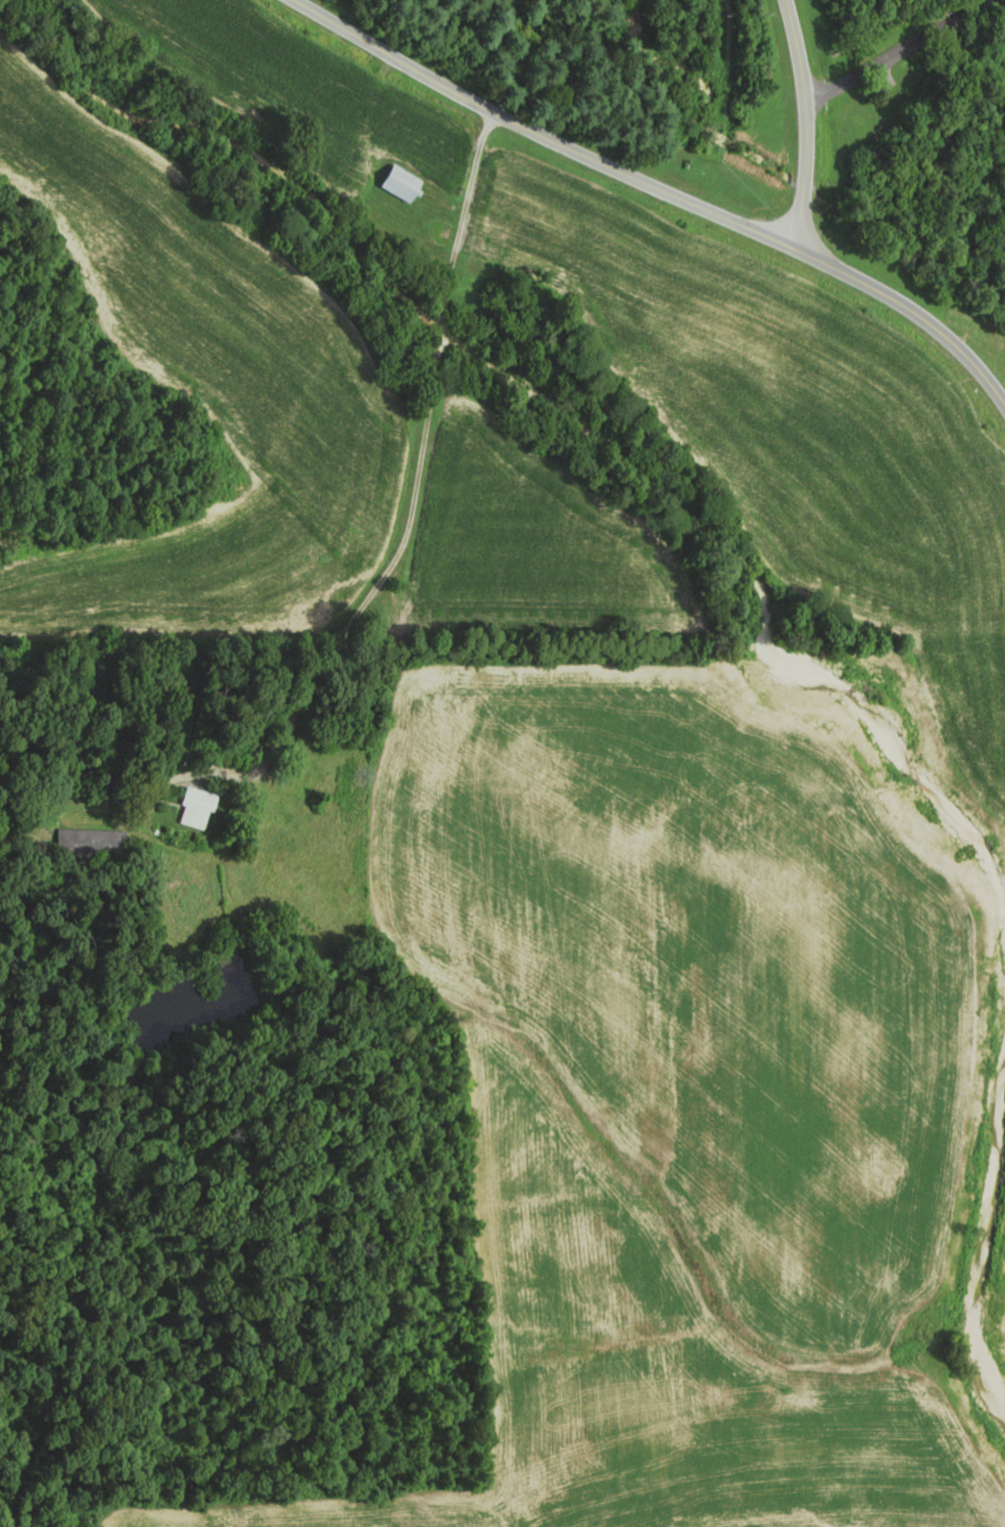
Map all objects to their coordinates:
road: (892, 54)
park: (801, 100)
road: (805, 122)
road: (540, 135)
building: (402, 183)
road: (914, 310)
road: (379, 584)
building: (197, 807)
building: (89, 841)

